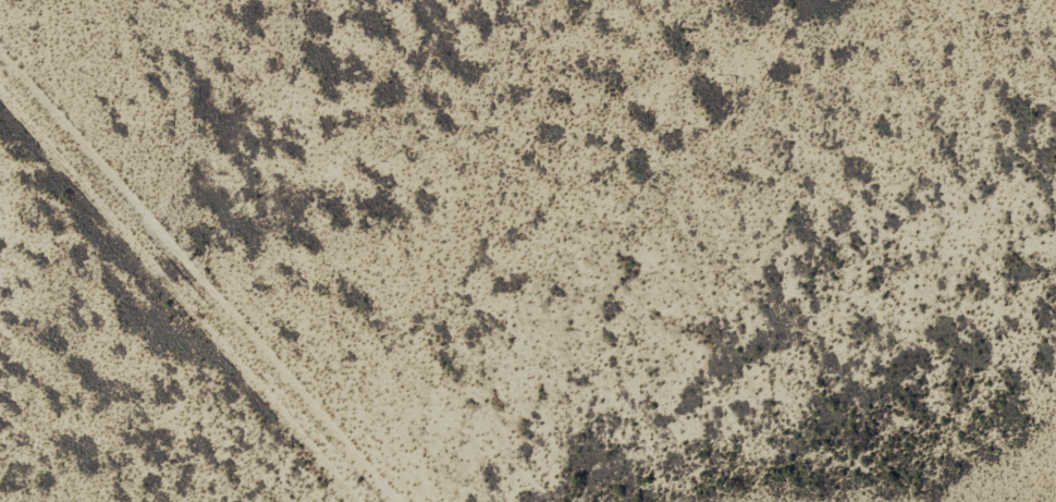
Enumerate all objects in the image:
road: (191, 289)

